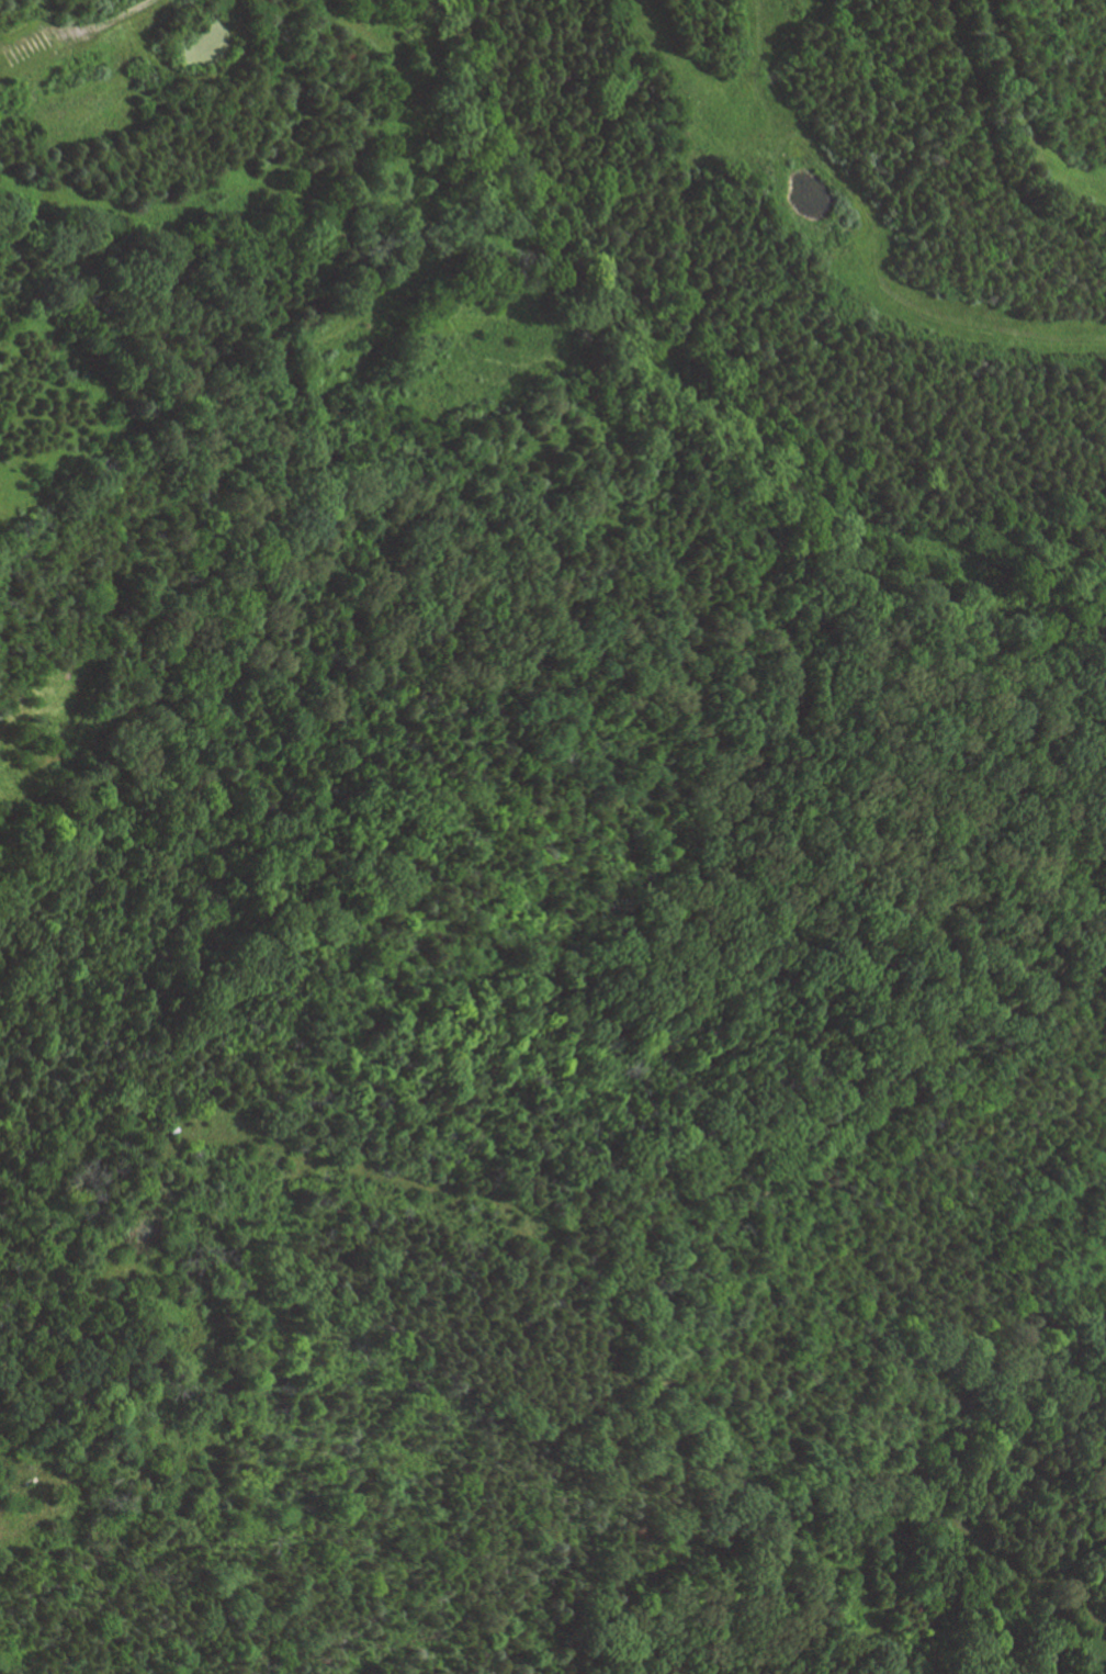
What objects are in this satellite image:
road: (114, 18)

